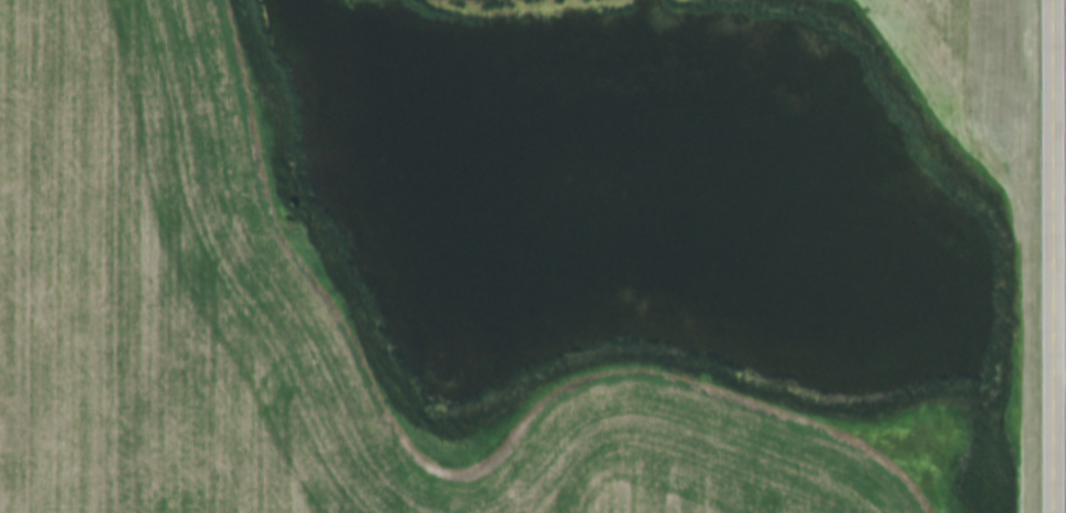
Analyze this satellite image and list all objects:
road: (1059, 256)
road: (1063, 391)

